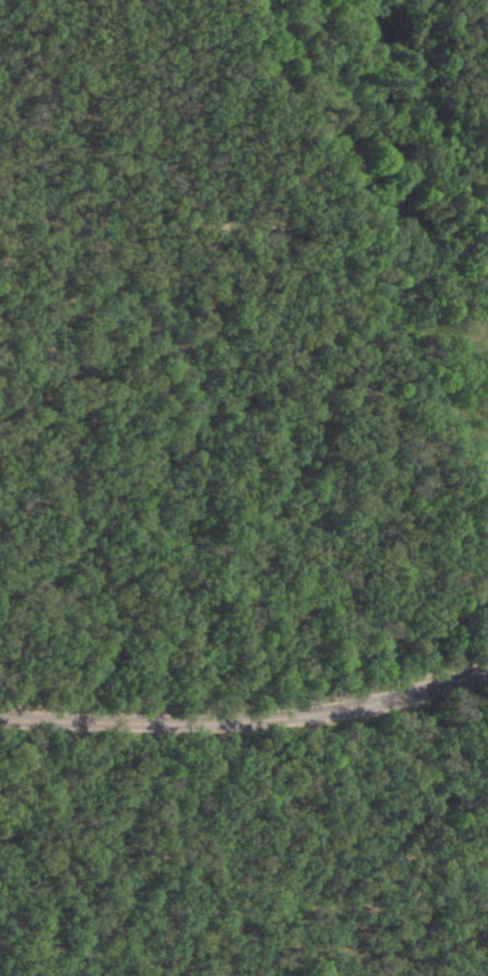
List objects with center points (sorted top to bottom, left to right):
road: (247, 682)

